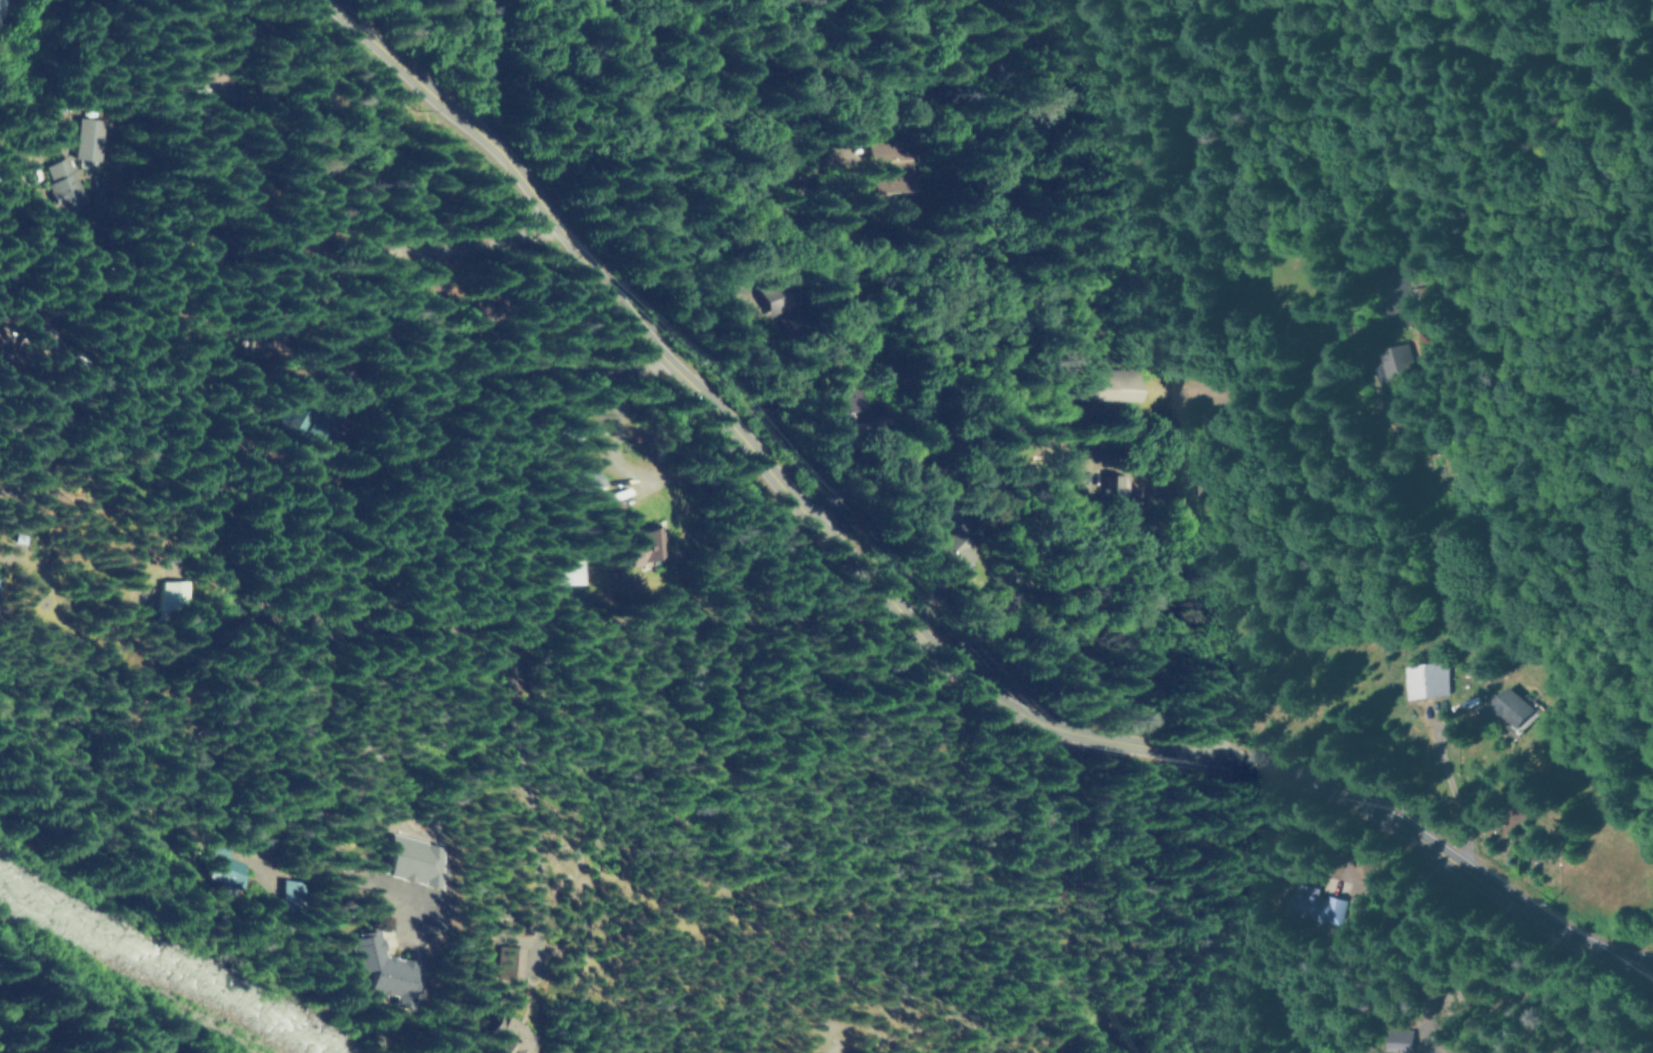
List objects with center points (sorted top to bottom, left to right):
building: (11, 13)
building: (121, 142)
road: (53, 157)
building: (97, 184)
road: (553, 230)
road: (471, 248)
road: (888, 259)
building: (807, 299)
building: (8, 338)
building: (1375, 360)
building: (1131, 386)
building: (880, 401)
building: (859, 403)
building: (354, 423)
road: (757, 423)
building: (1104, 478)
building: (611, 497)
building: (663, 545)
road: (33, 551)
building: (986, 554)
building: (594, 573)
road: (1246, 579)
building: (1, 592)
building: (179, 595)
road: (531, 616)
building: (1423, 680)
building: (1505, 707)
road: (1453, 797)
road: (1439, 850)
building: (421, 861)
building: (234, 869)
building: (303, 895)
building: (1314, 906)
building: (508, 963)
river: (174, 967)
building: (380, 968)
building: (509, 1038)
building: (1399, 1041)

